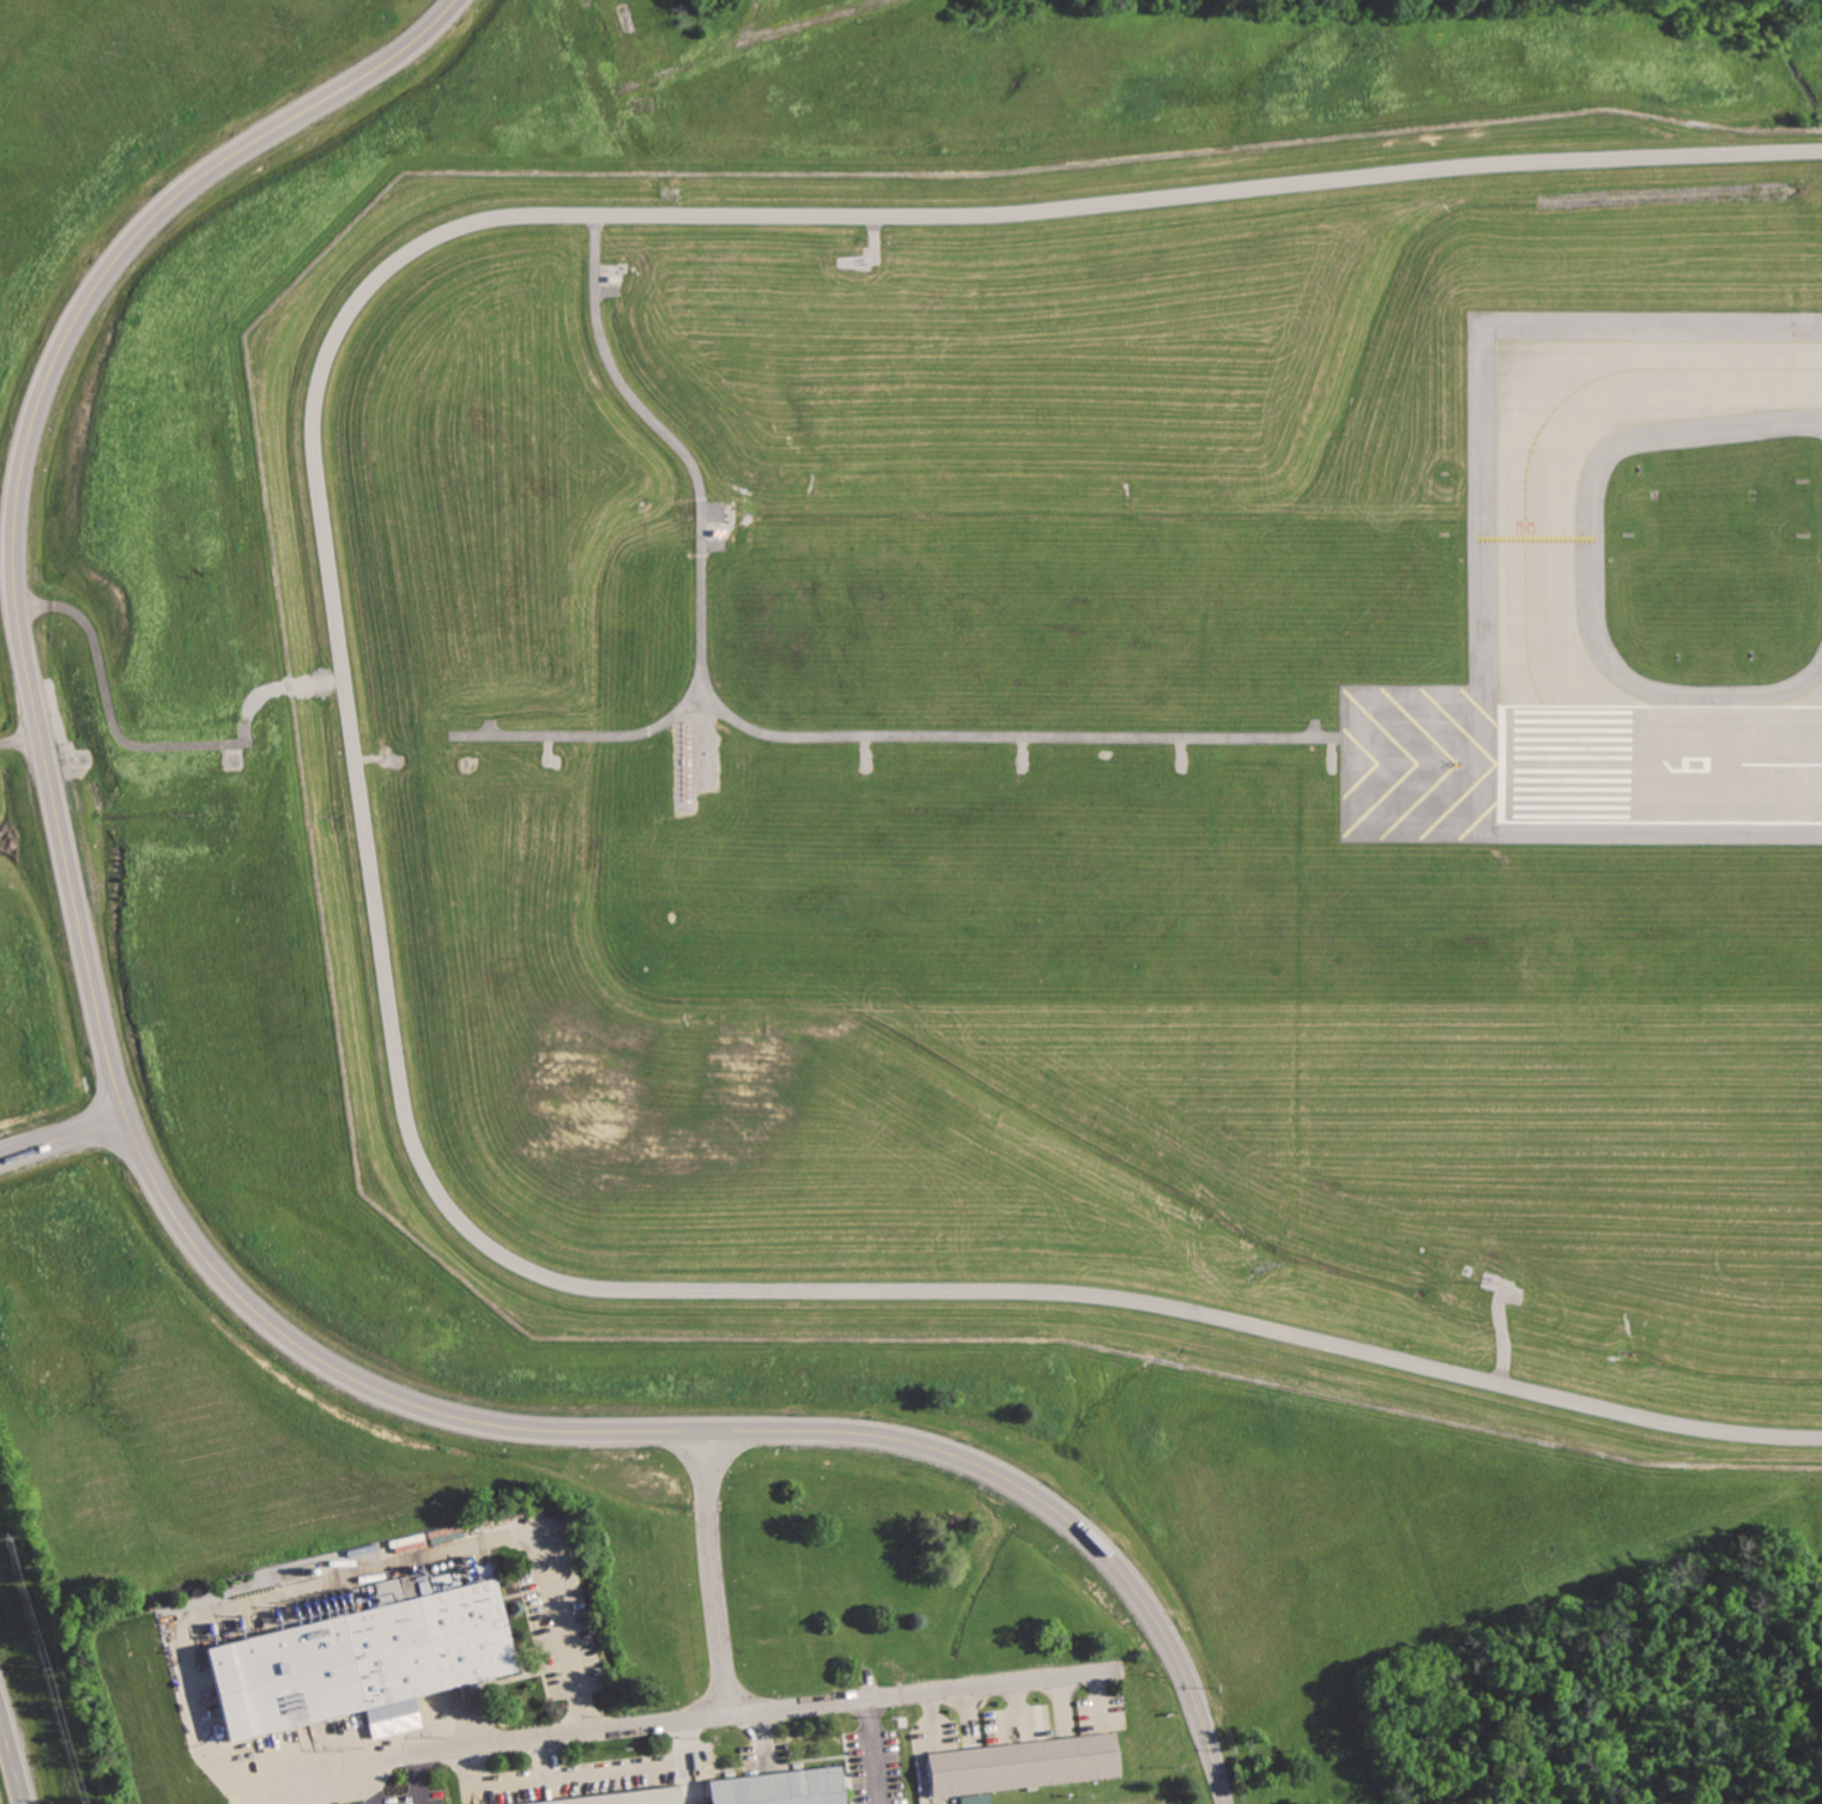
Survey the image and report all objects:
road: (1665, 156)
airport taxiway: (1688, 386)
airport taxiway: (1552, 582)
road: (110, 712)
road: (758, 728)
road: (589, 734)
road: (23, 741)
airport: (1092, 757)
airport runway: (1600, 769)
road: (373, 867)
road: (62, 1132)
road: (146, 1164)
road: (715, 1575)
building: (444, 1580)
road: (289, 1588)
building: (359, 1659)
road: (1097, 1696)
road: (1060, 1701)
road: (1015, 1709)
road: (765, 1712)
road: (761, 1739)
road: (920, 1748)
road: (870, 1752)
road: (12, 1757)
road: (543, 1757)
building: (1025, 1769)
road: (580, 1772)
road: (418, 1778)
road: (688, 1781)
road: (367, 1782)
building: (782, 1788)
building: (636, 1798)
building: (974, 1798)

